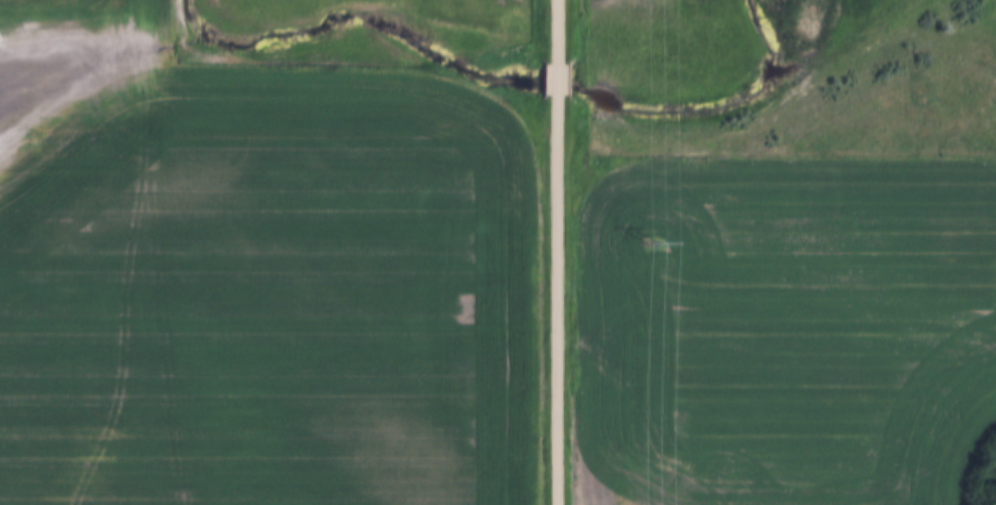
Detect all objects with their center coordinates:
road: (557, 33)
road: (558, 81)
power tower: (650, 244)
road: (559, 300)

